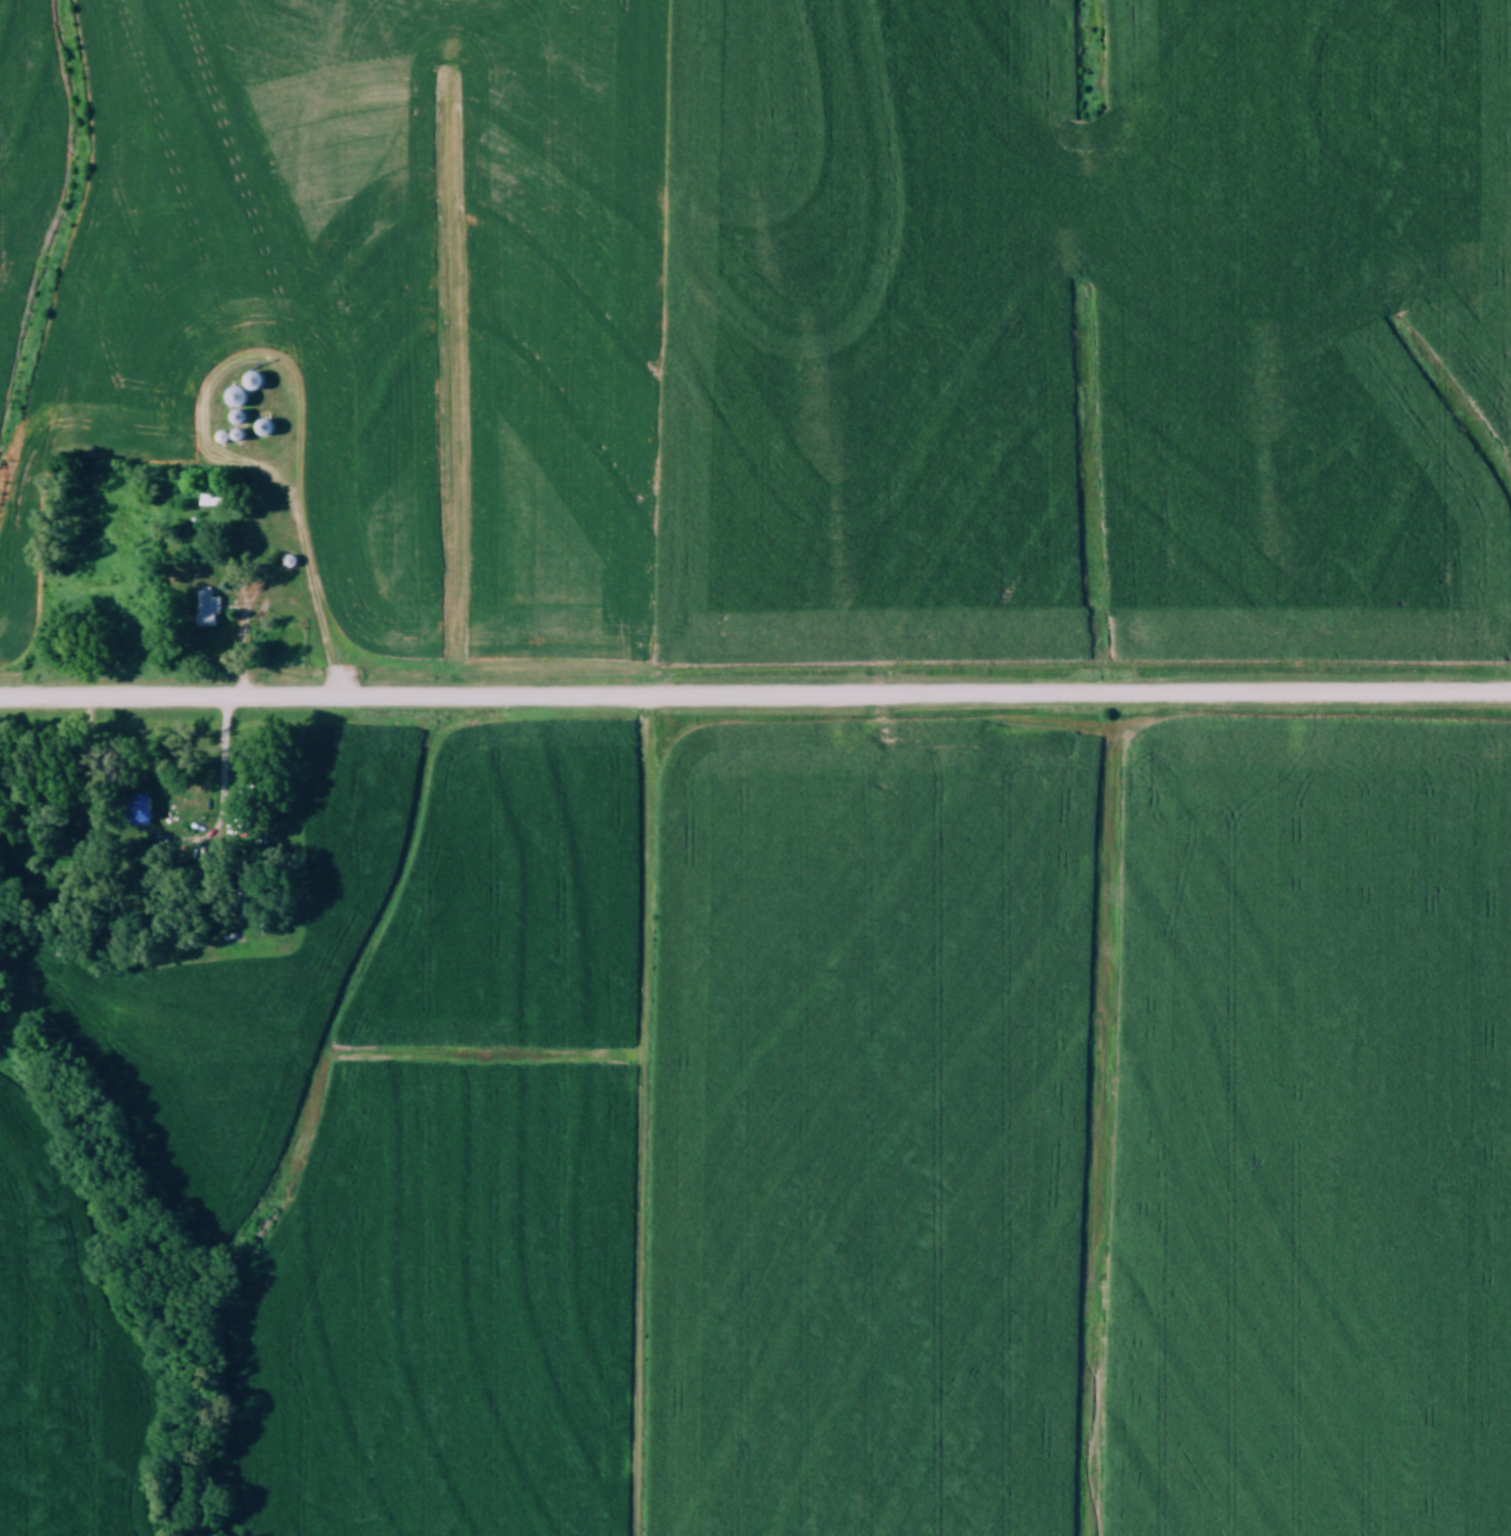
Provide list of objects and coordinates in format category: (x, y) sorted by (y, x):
building: (248, 381)
building: (230, 396)
building: (259, 427)
building: (206, 498)
building: (205, 609)
road: (755, 700)
road: (224, 805)
building: (133, 810)

